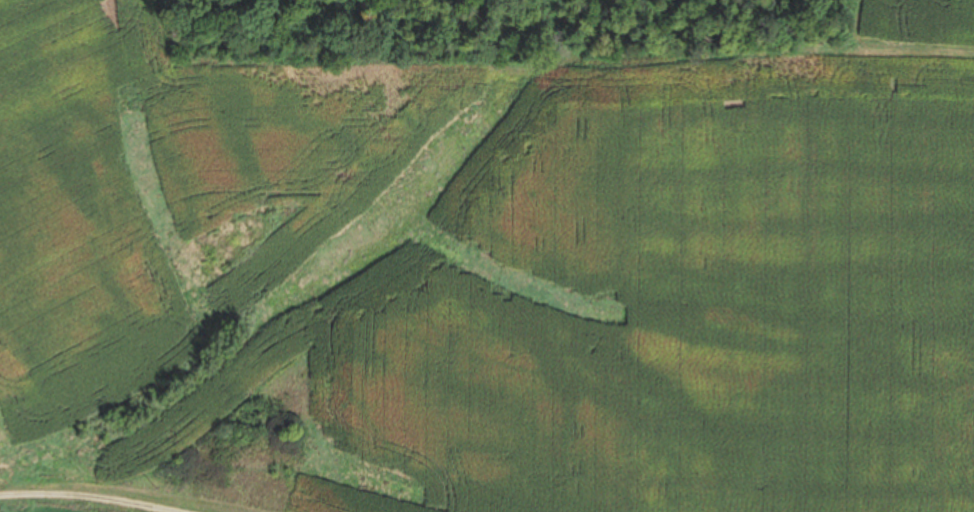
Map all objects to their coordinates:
road: (79, 498)

